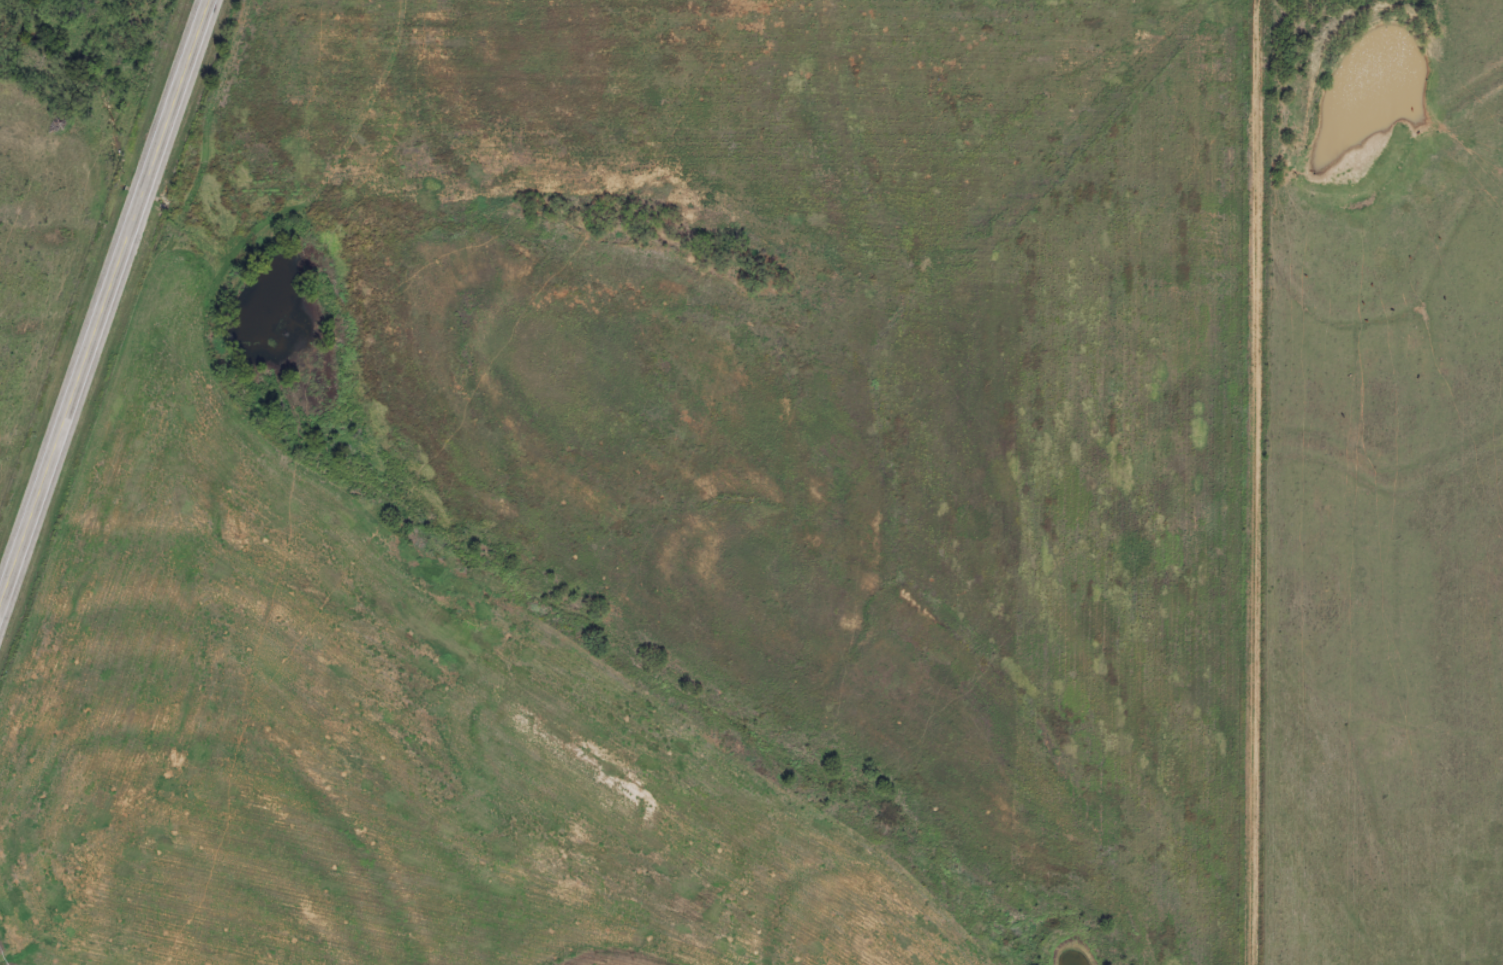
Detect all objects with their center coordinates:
road: (1245, 34)
road: (107, 311)
road: (1256, 482)

